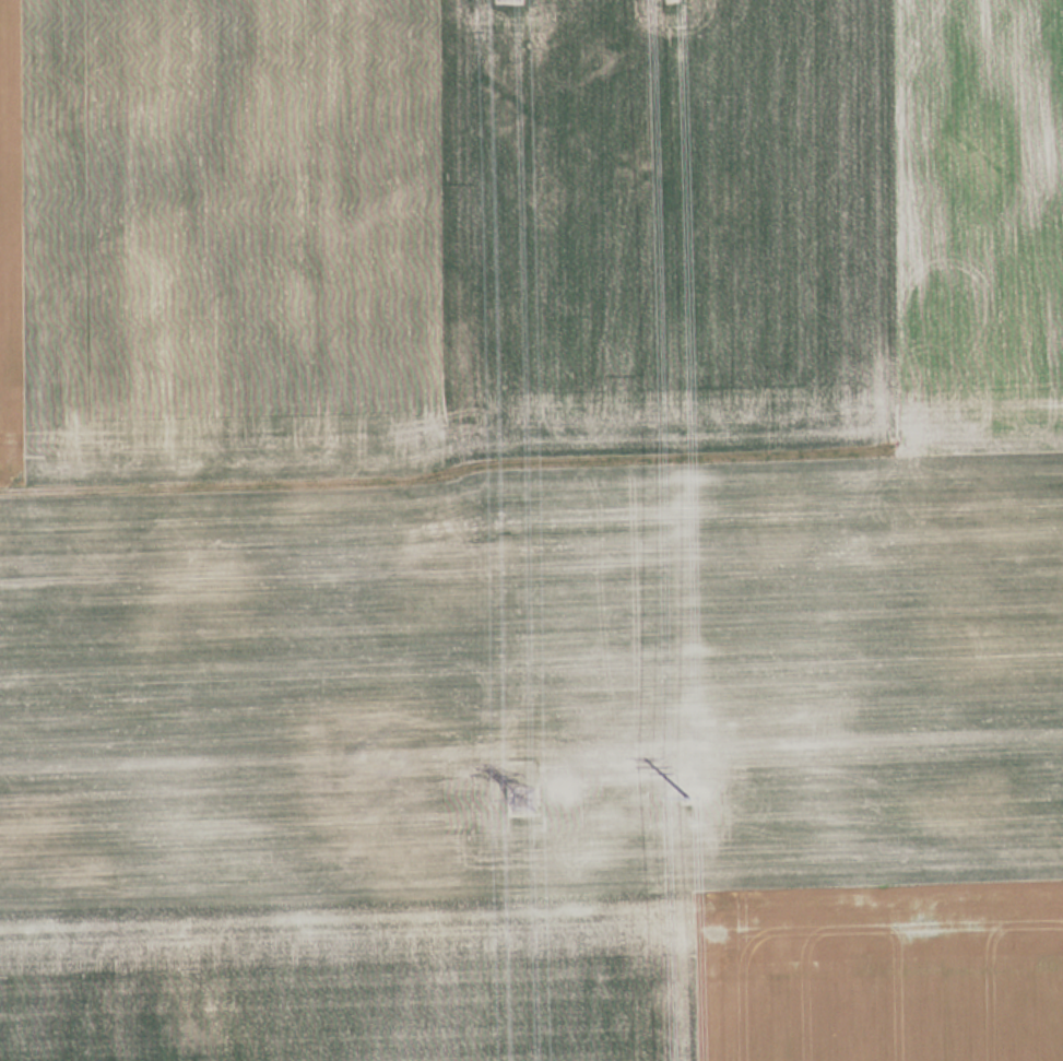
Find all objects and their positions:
power tower: (680, 3)
power tower: (690, 788)
power tower: (529, 794)

